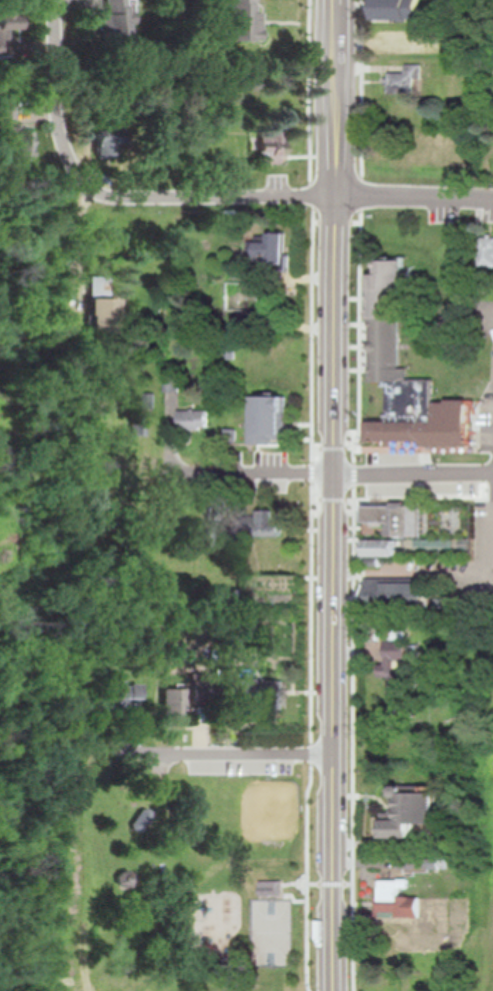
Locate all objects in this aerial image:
building: (396, 9)
building: (242, 20)
building: (116, 21)
building: (11, 23)
building: (385, 47)
building: (405, 80)
road: (57, 111)
building: (19, 132)
building: (106, 147)
building: (272, 147)
road: (305, 195)
road: (338, 222)
building: (271, 250)
building: (486, 252)
building: (100, 301)
building: (406, 380)
building: (171, 383)
building: (192, 419)
building: (268, 419)
road: (368, 448)
road: (333, 473)
road: (356, 494)
road: (314, 495)
road: (334, 495)
road: (403, 498)
building: (270, 524)
building: (405, 534)
road: (413, 573)
building: (395, 593)
building: (399, 667)
building: (256, 691)
building: (114, 695)
building: (172, 704)
road: (232, 753)
building: (412, 810)
building: (413, 864)
park: (202, 881)
road: (331, 883)
building: (270, 885)
building: (397, 901)

